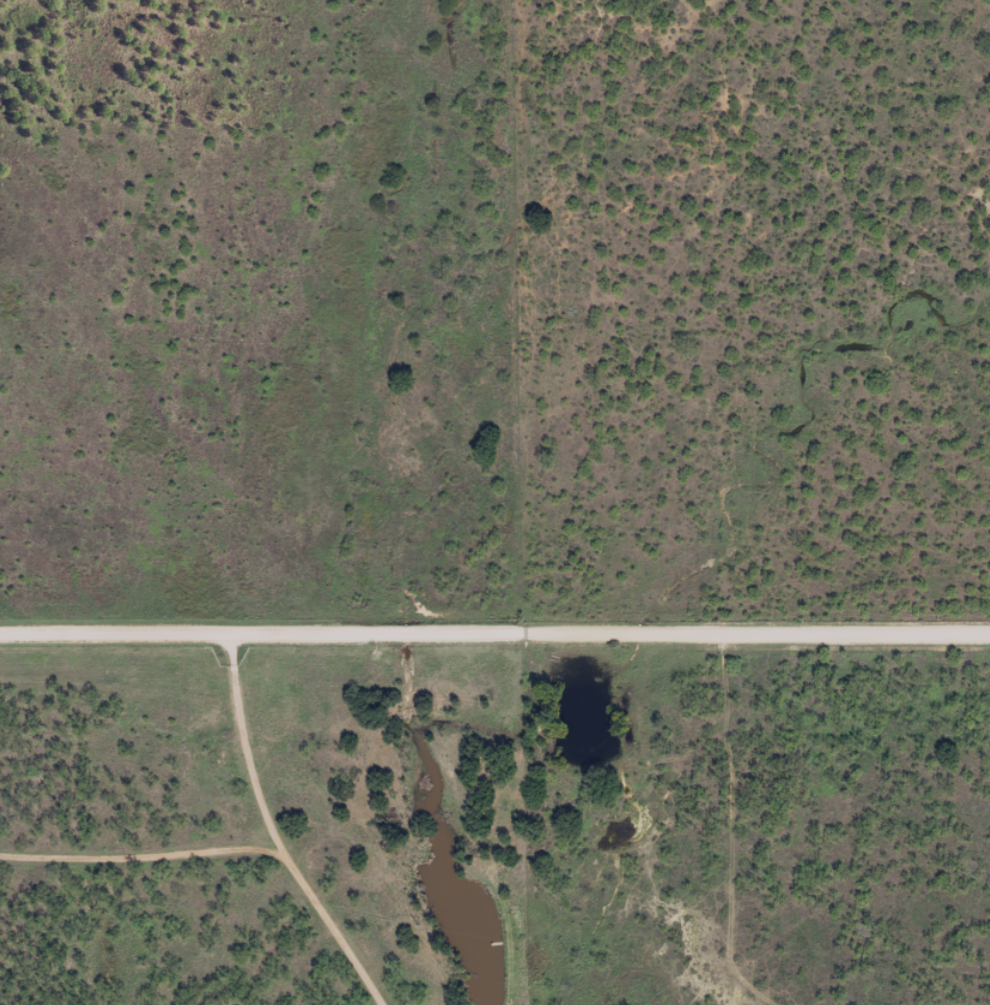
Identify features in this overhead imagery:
road: (494, 649)
road: (283, 837)

